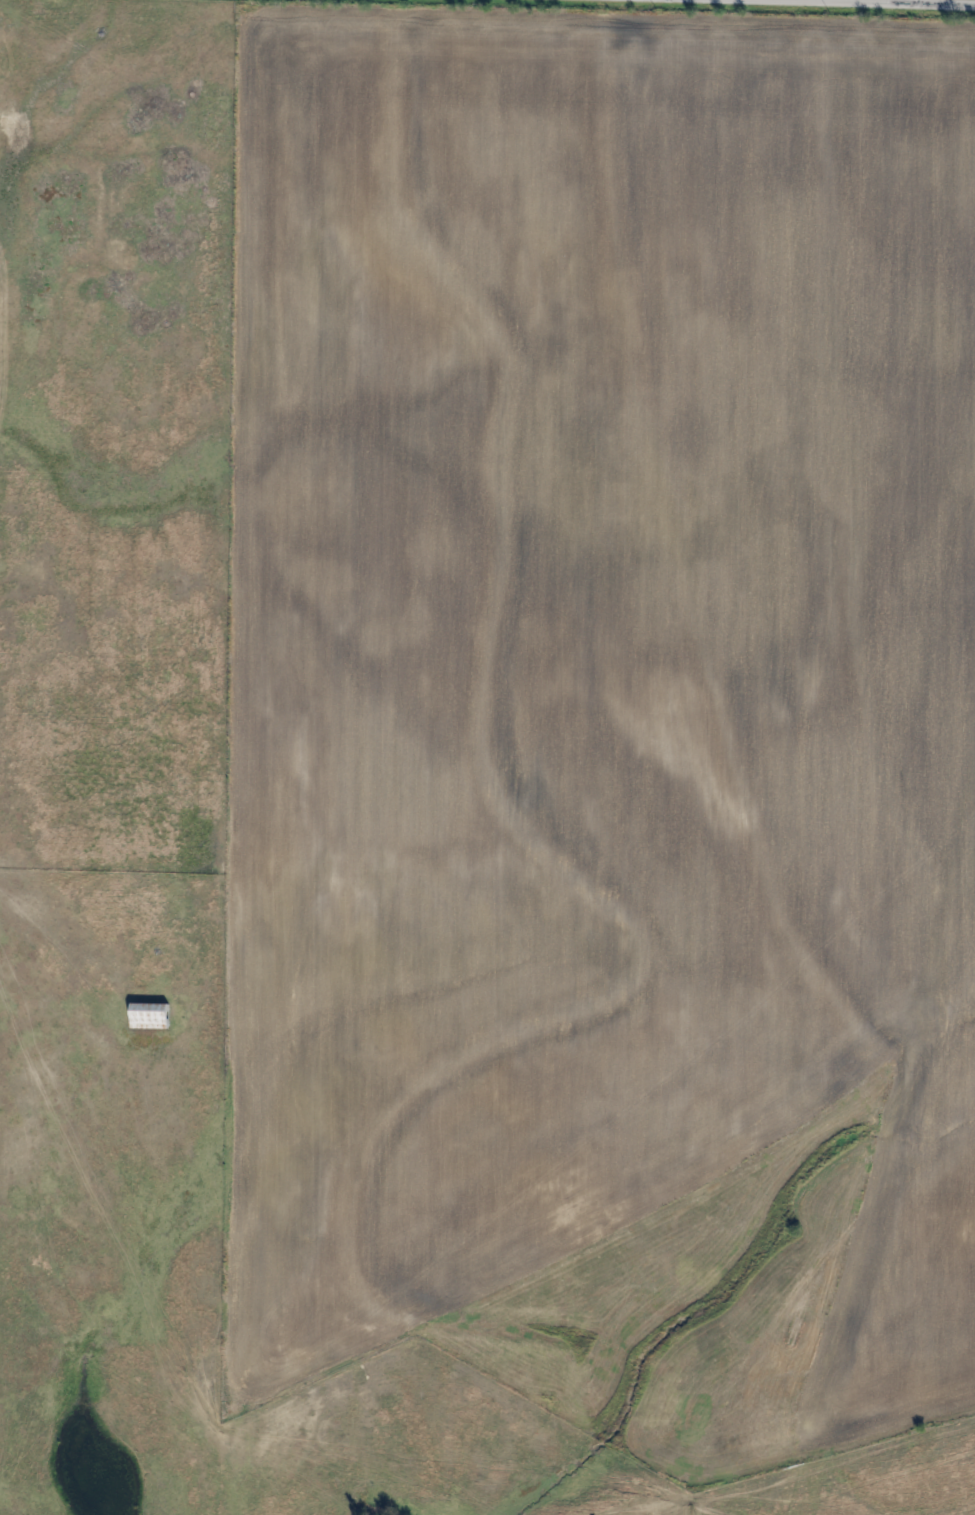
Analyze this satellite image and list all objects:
road: (820, 4)
building: (150, 1015)
crop: (1, 1361)

